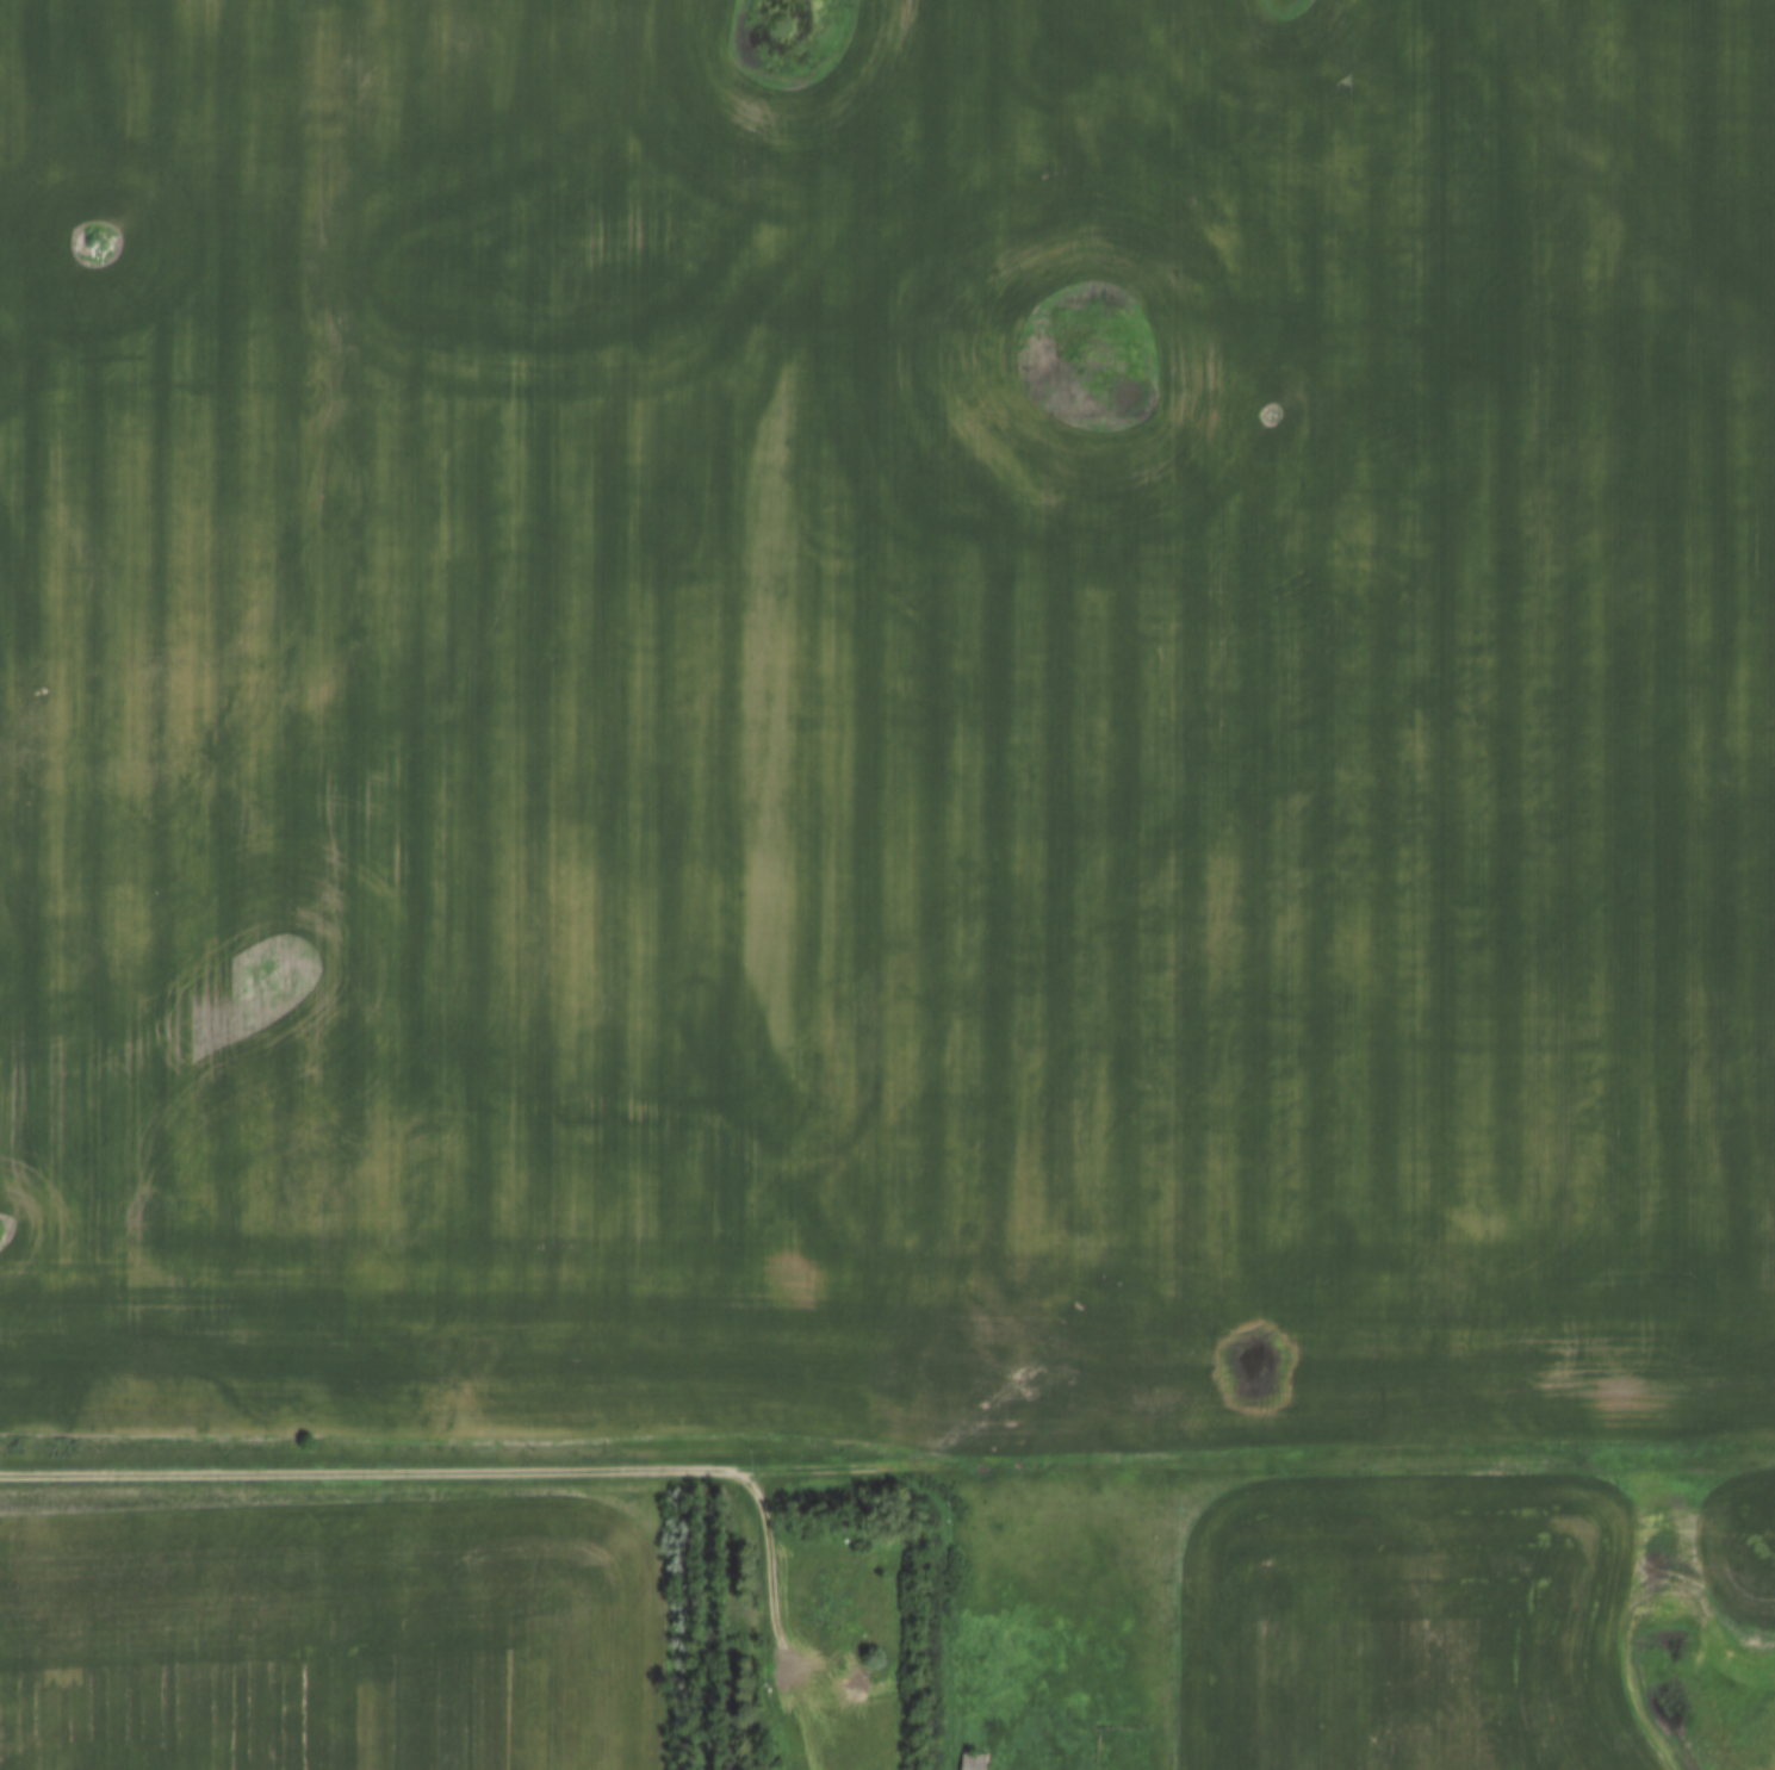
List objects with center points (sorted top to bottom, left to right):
road: (486, 1467)
building: (828, 1625)
building: (973, 1762)

